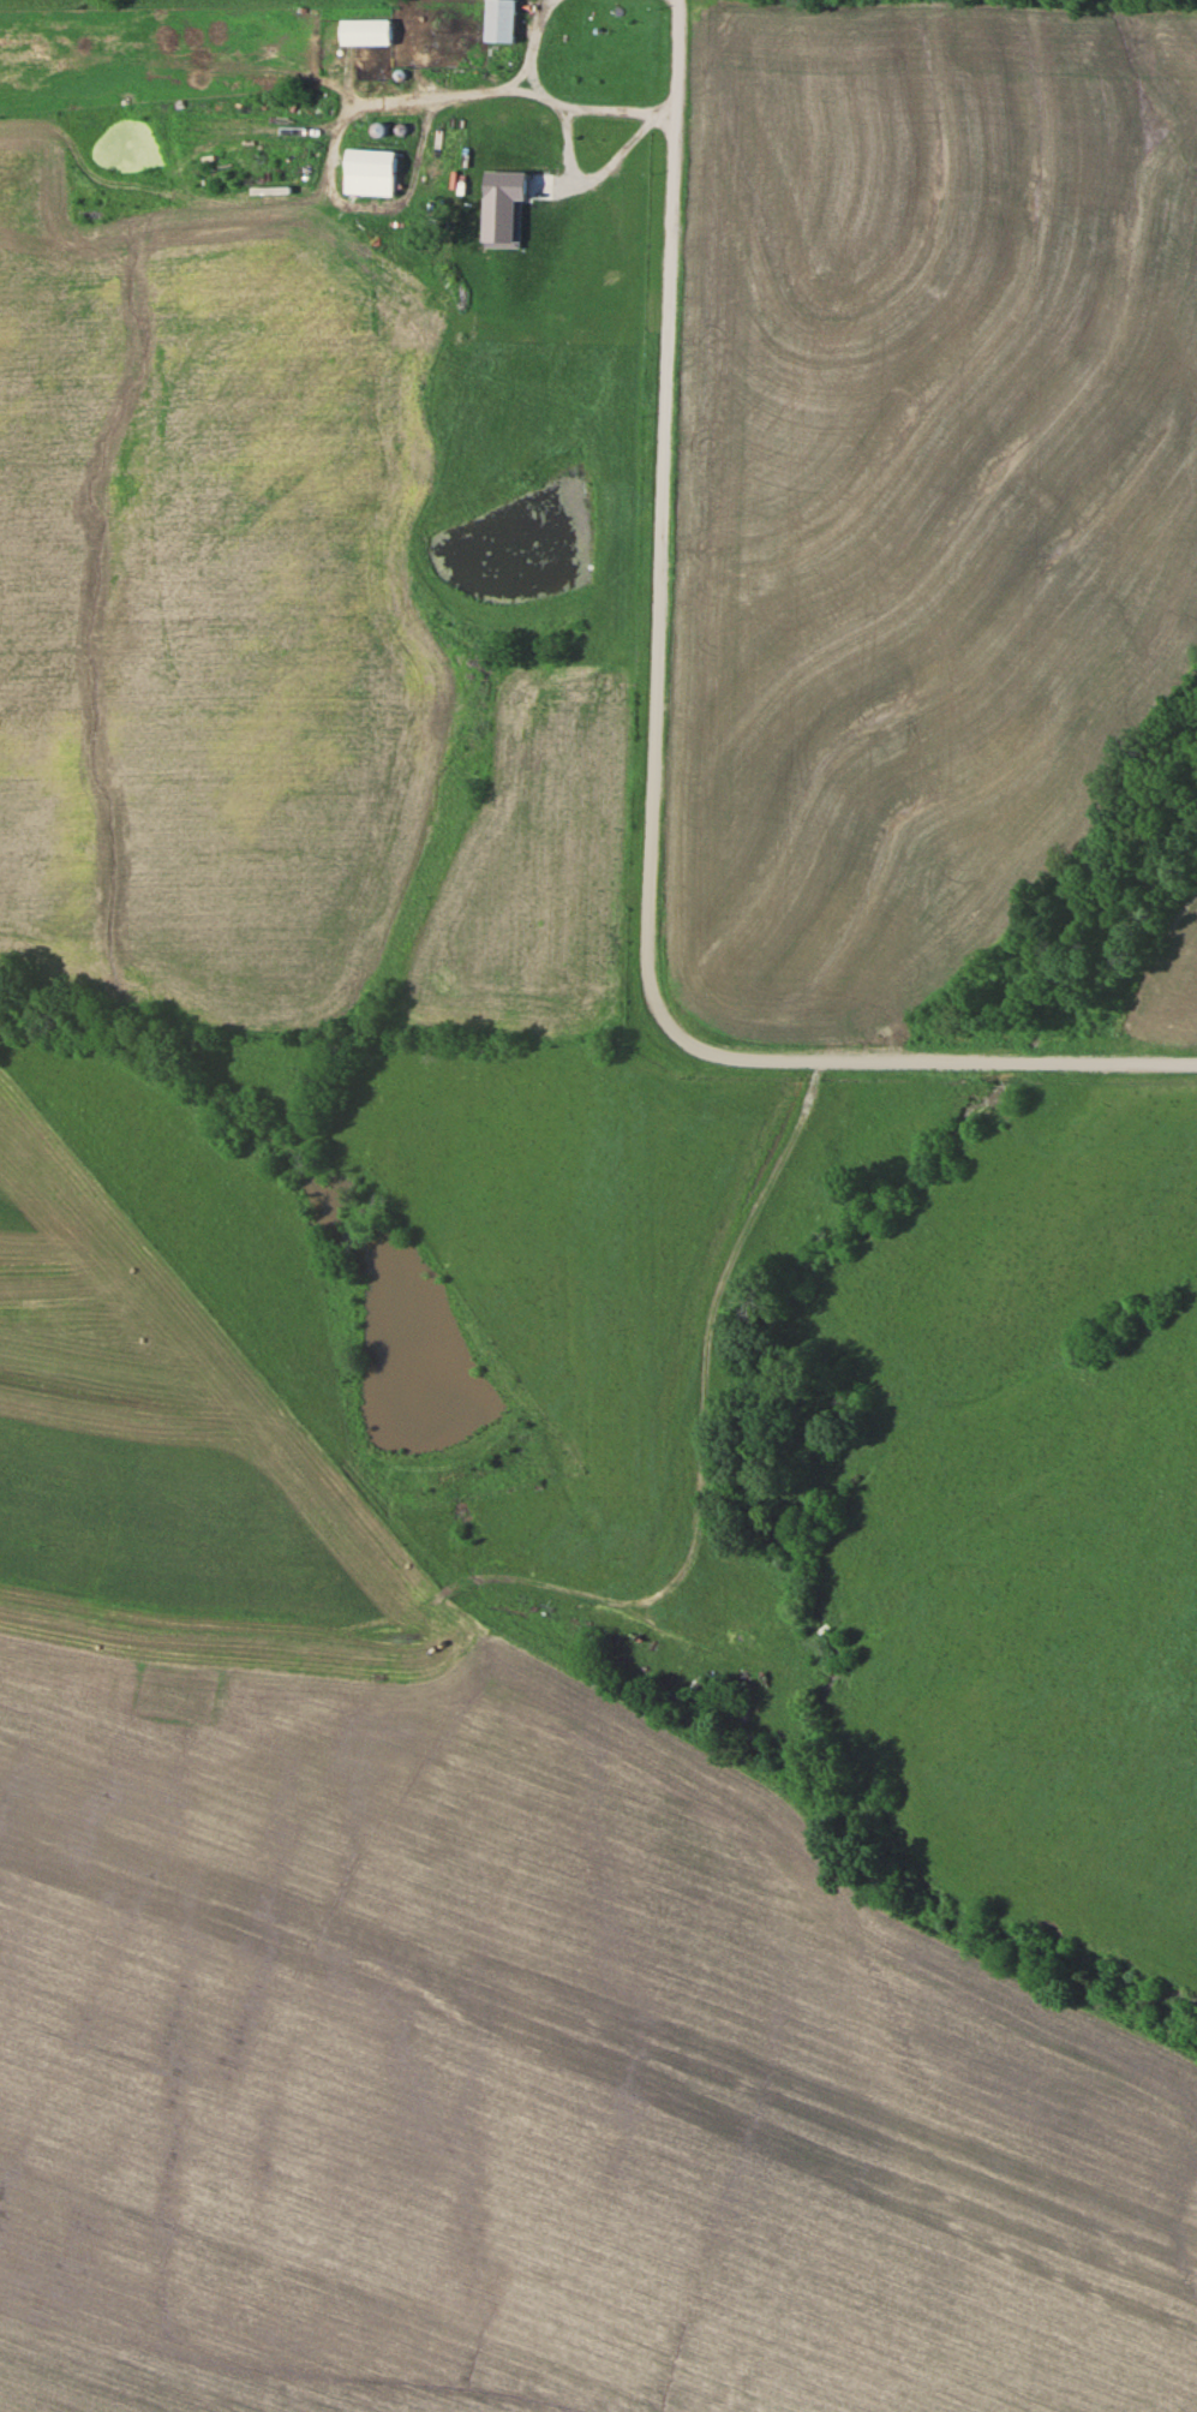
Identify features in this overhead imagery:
building: (503, 20)
building: (369, 32)
road: (684, 574)
road: (1009, 1081)
road: (609, 1637)
crop: (469, 1978)

